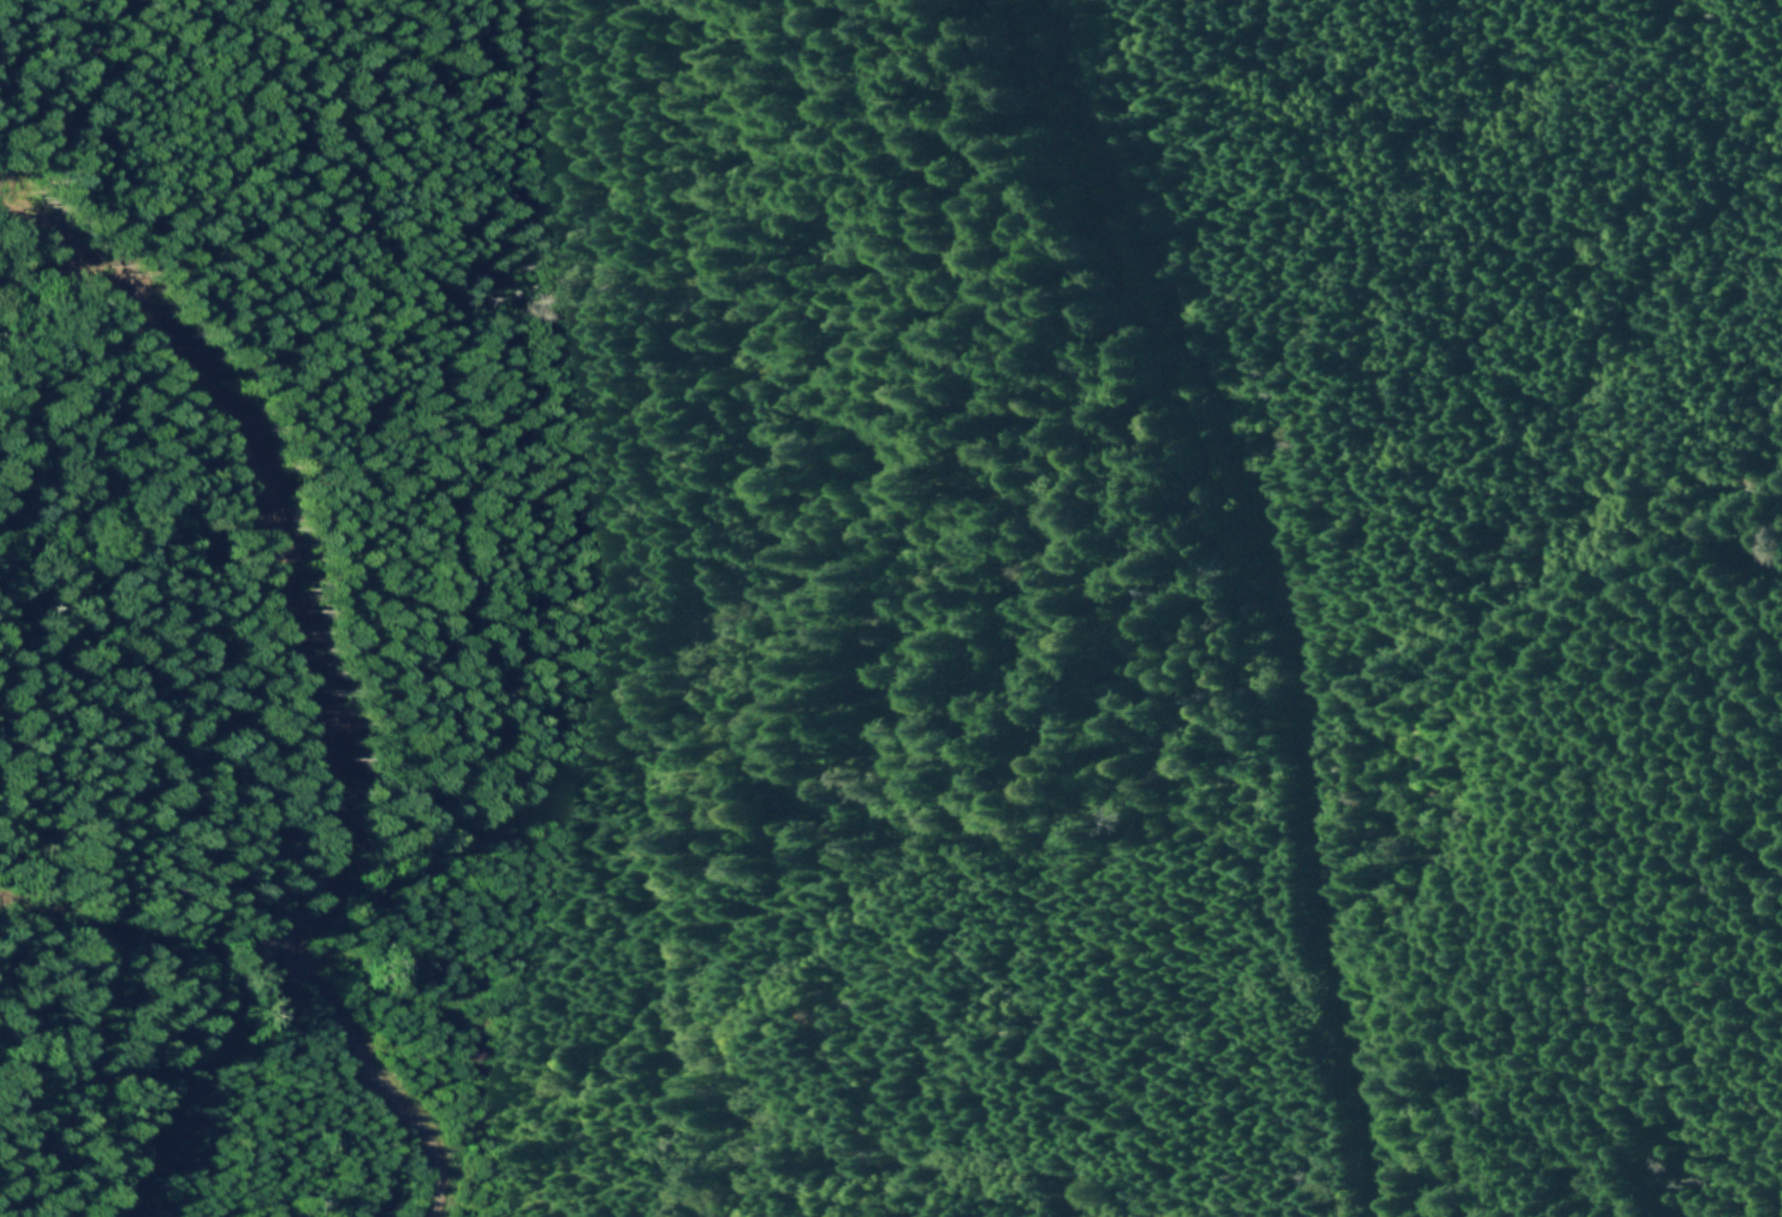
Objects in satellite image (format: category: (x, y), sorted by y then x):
road: (1276, 586)
road: (253, 973)

